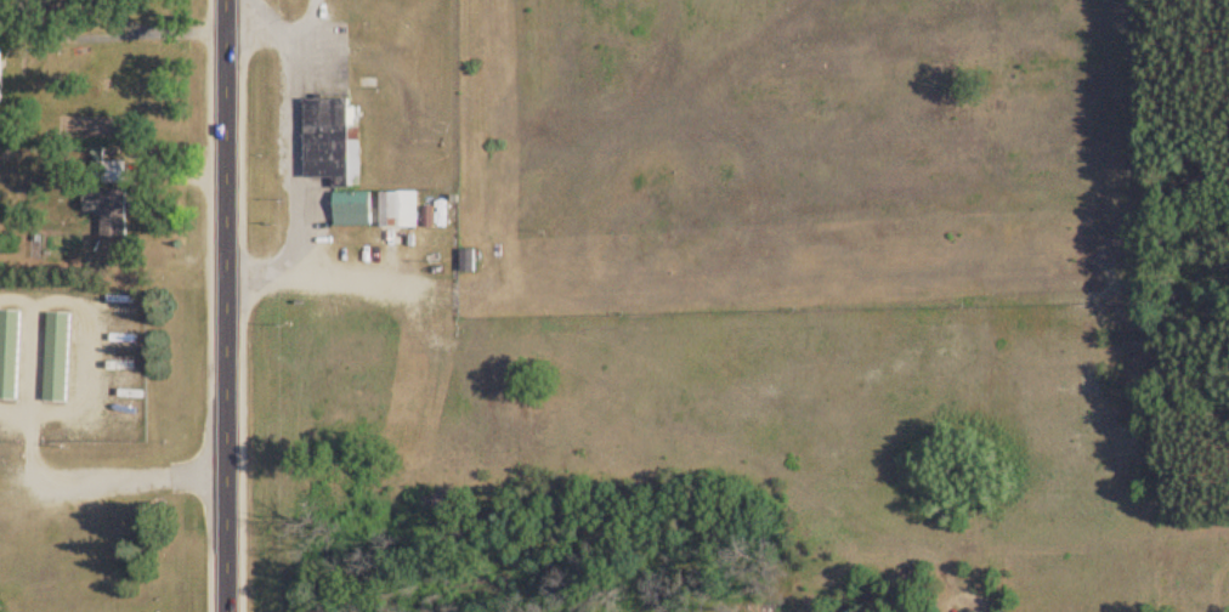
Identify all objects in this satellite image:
building: (111, 172)
building: (353, 209)
building: (398, 210)
building: (106, 212)
building: (466, 261)
road: (226, 306)
building: (9, 353)
building: (56, 357)
road: (1087, 535)
road: (889, 568)
road: (991, 580)

